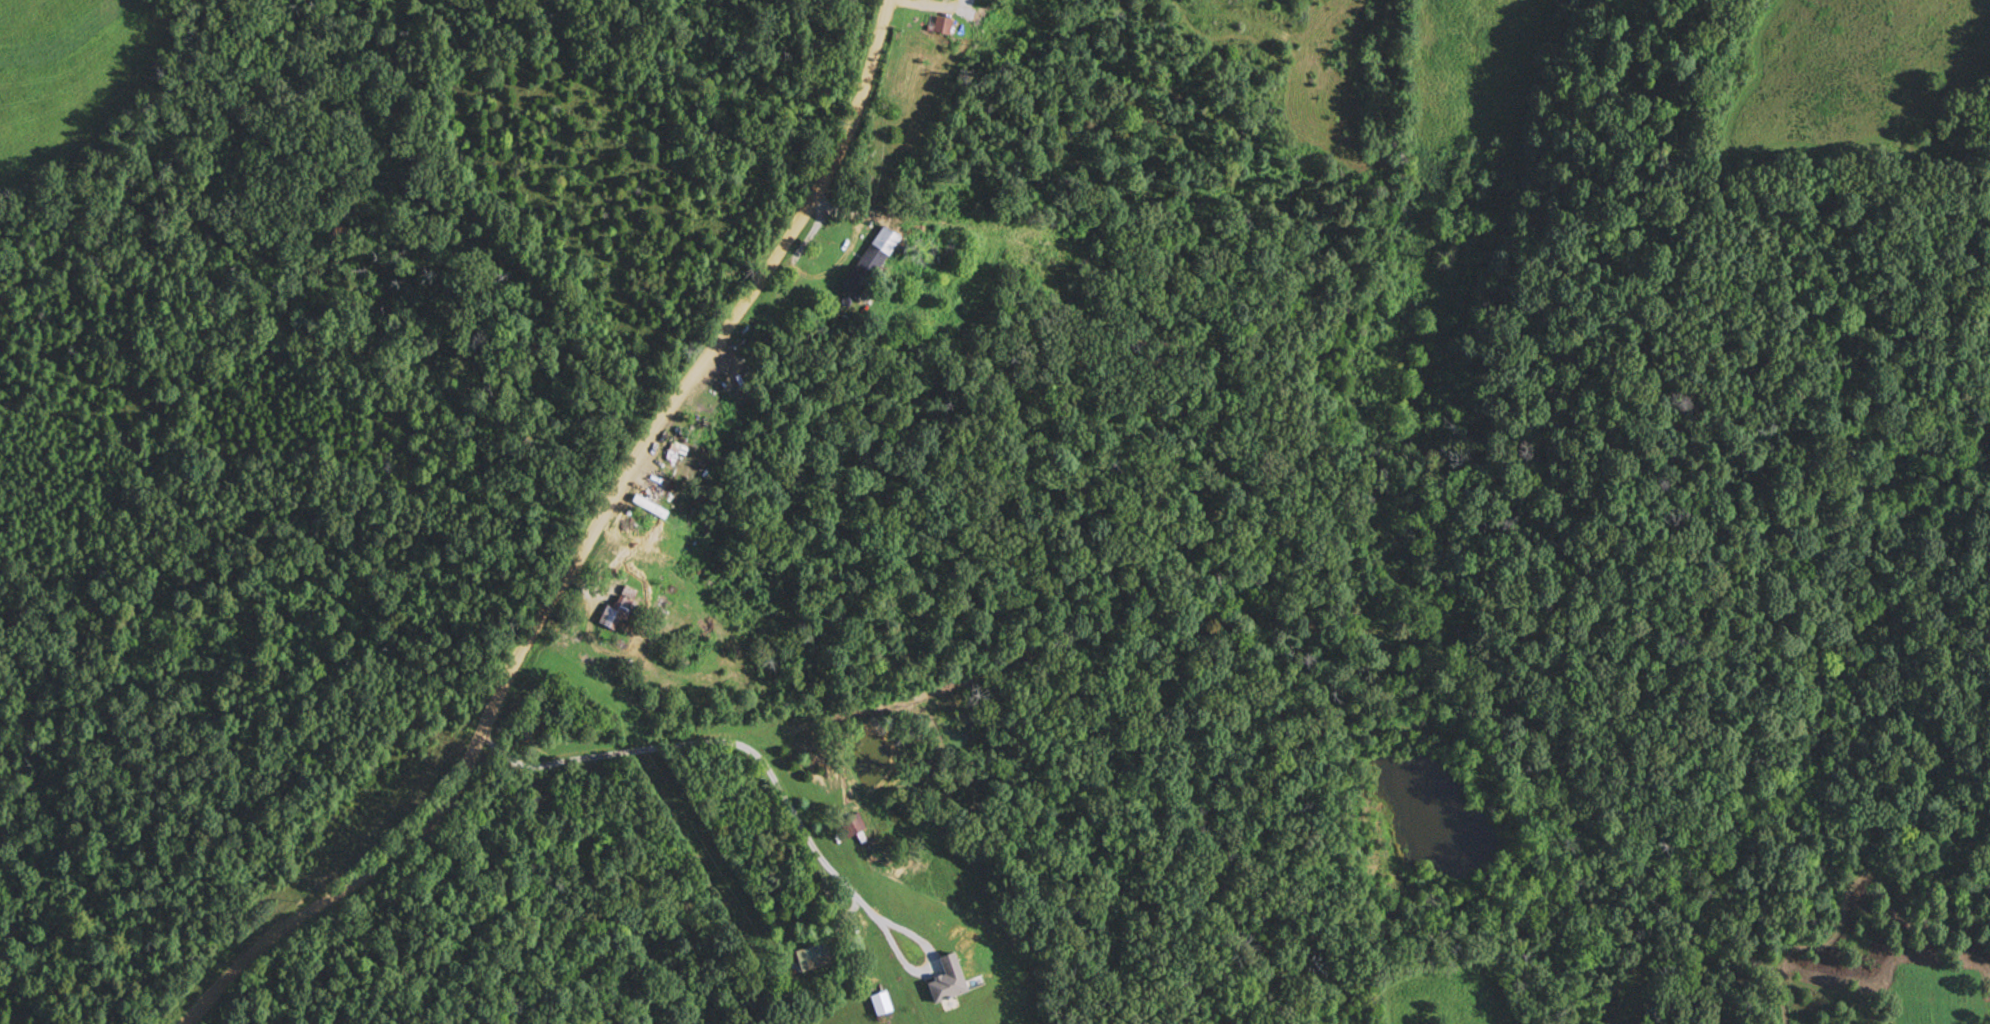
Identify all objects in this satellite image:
road: (929, 7)
building: (873, 261)
building: (1058, 276)
building: (657, 486)
road: (584, 554)
building: (621, 608)
road: (771, 735)
building: (813, 955)
building: (881, 1002)

